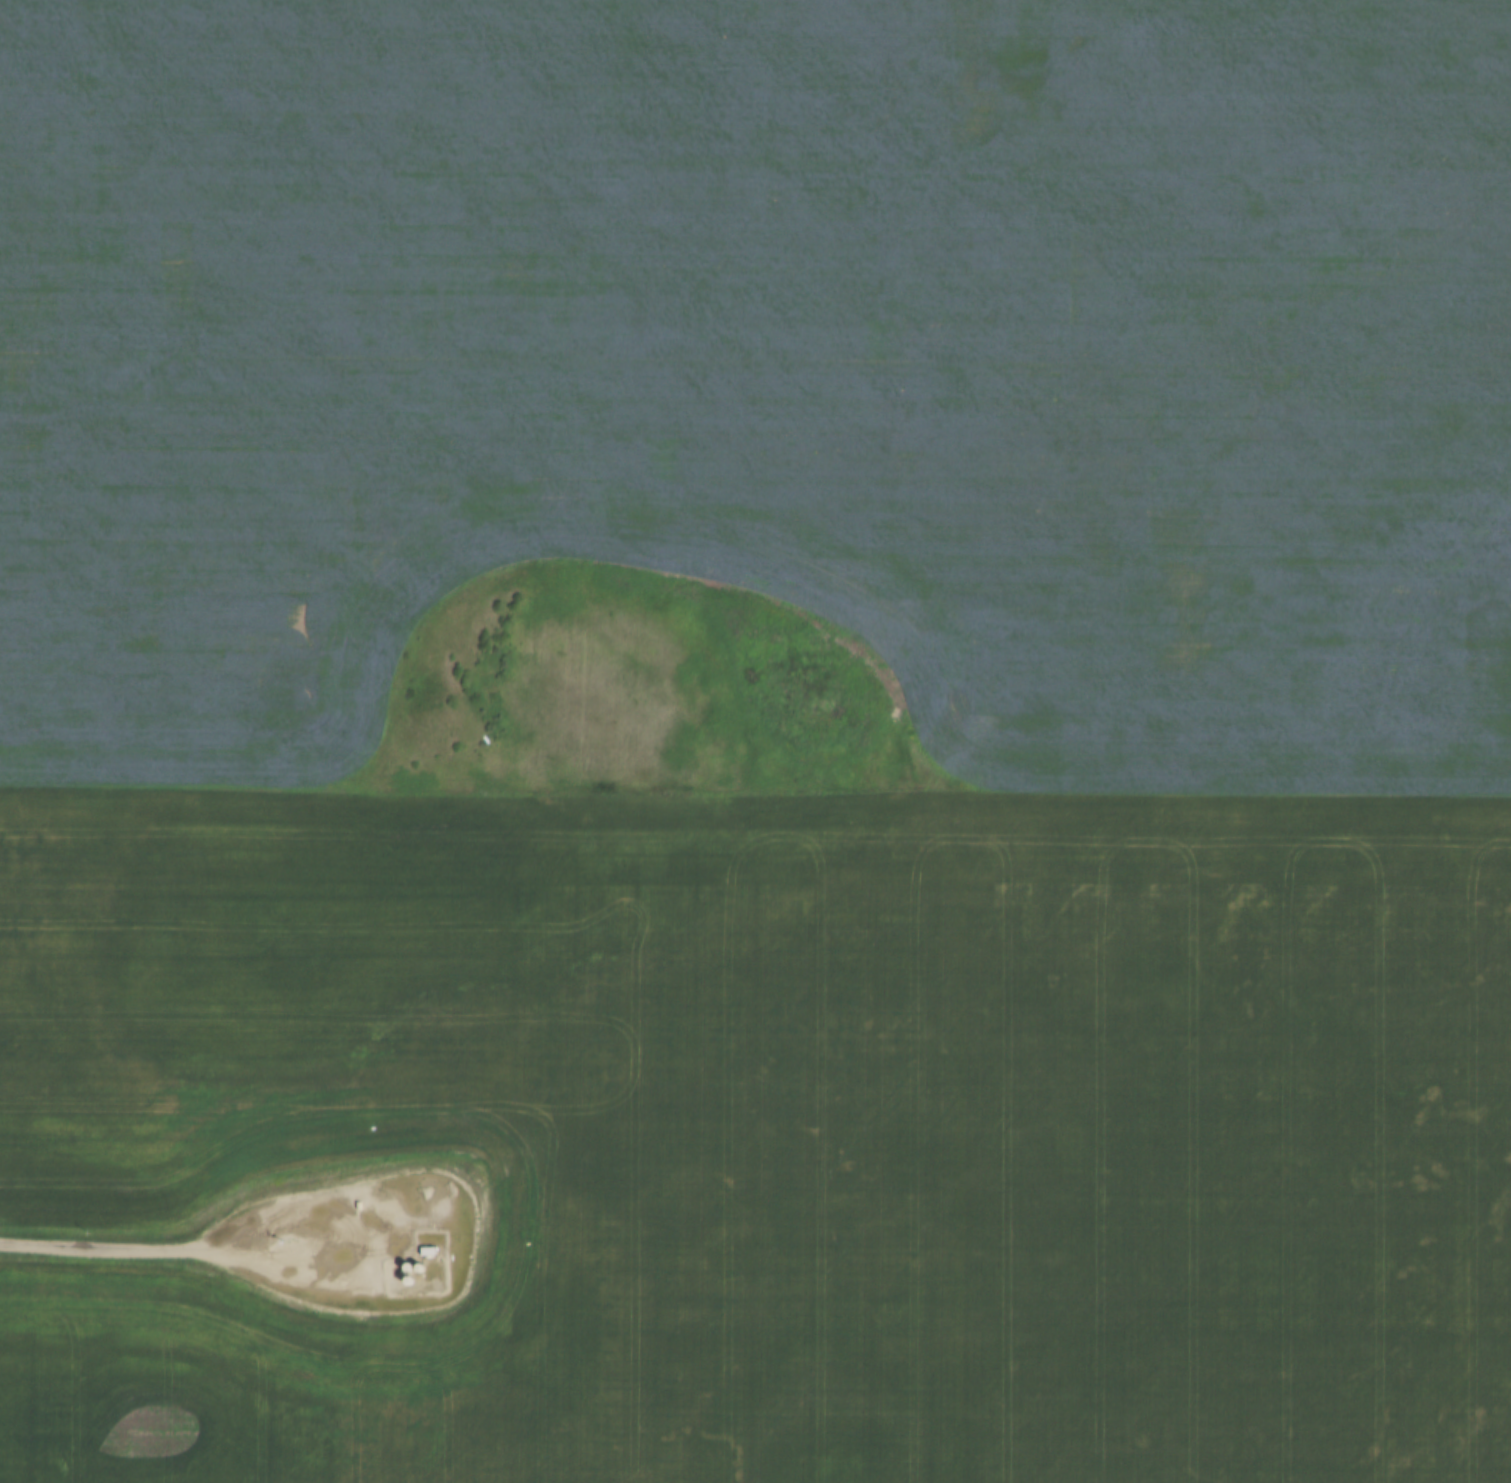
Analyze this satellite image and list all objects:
road: (210, 1242)

